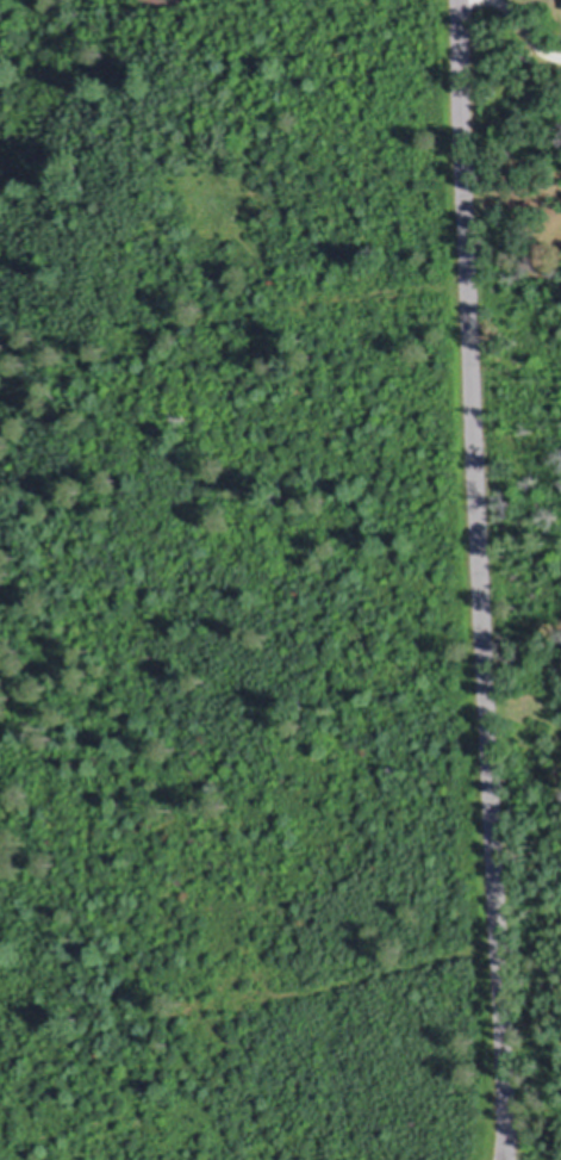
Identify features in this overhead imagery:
road: (525, 29)
road: (482, 579)

